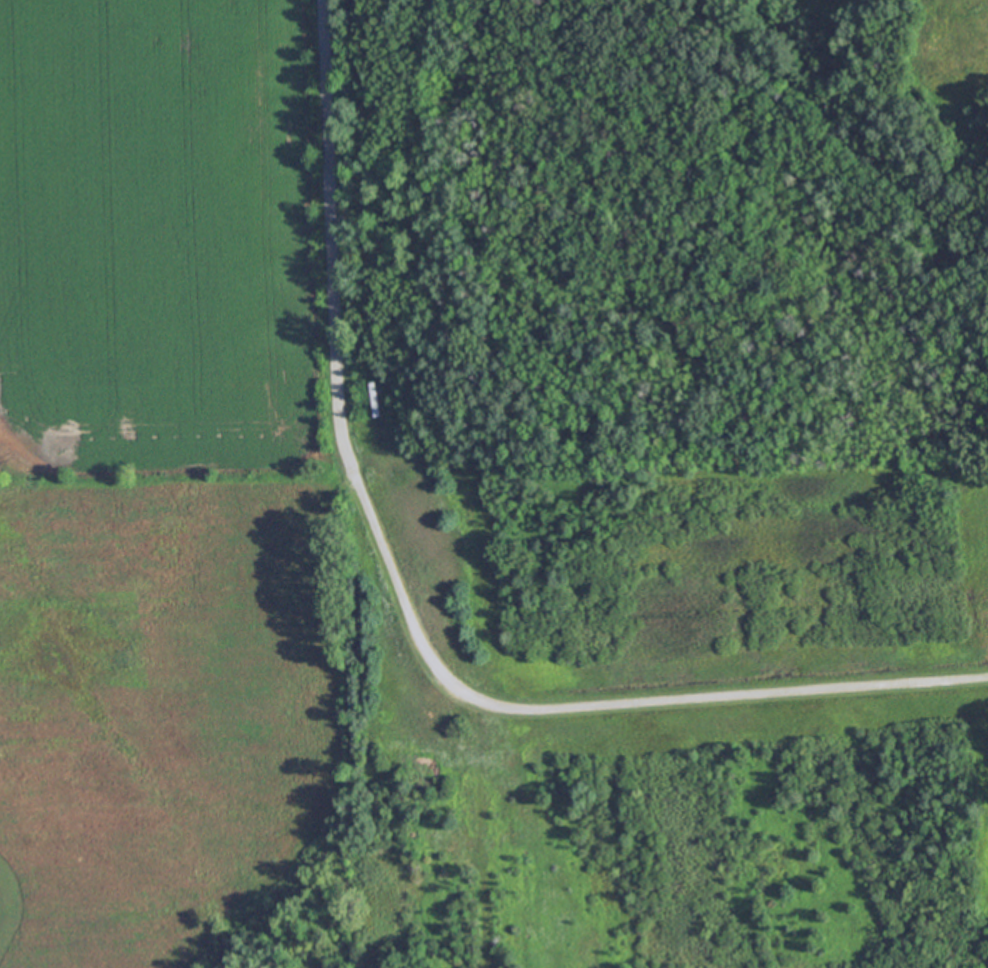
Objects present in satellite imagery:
road: (336, 217)
road: (581, 707)

